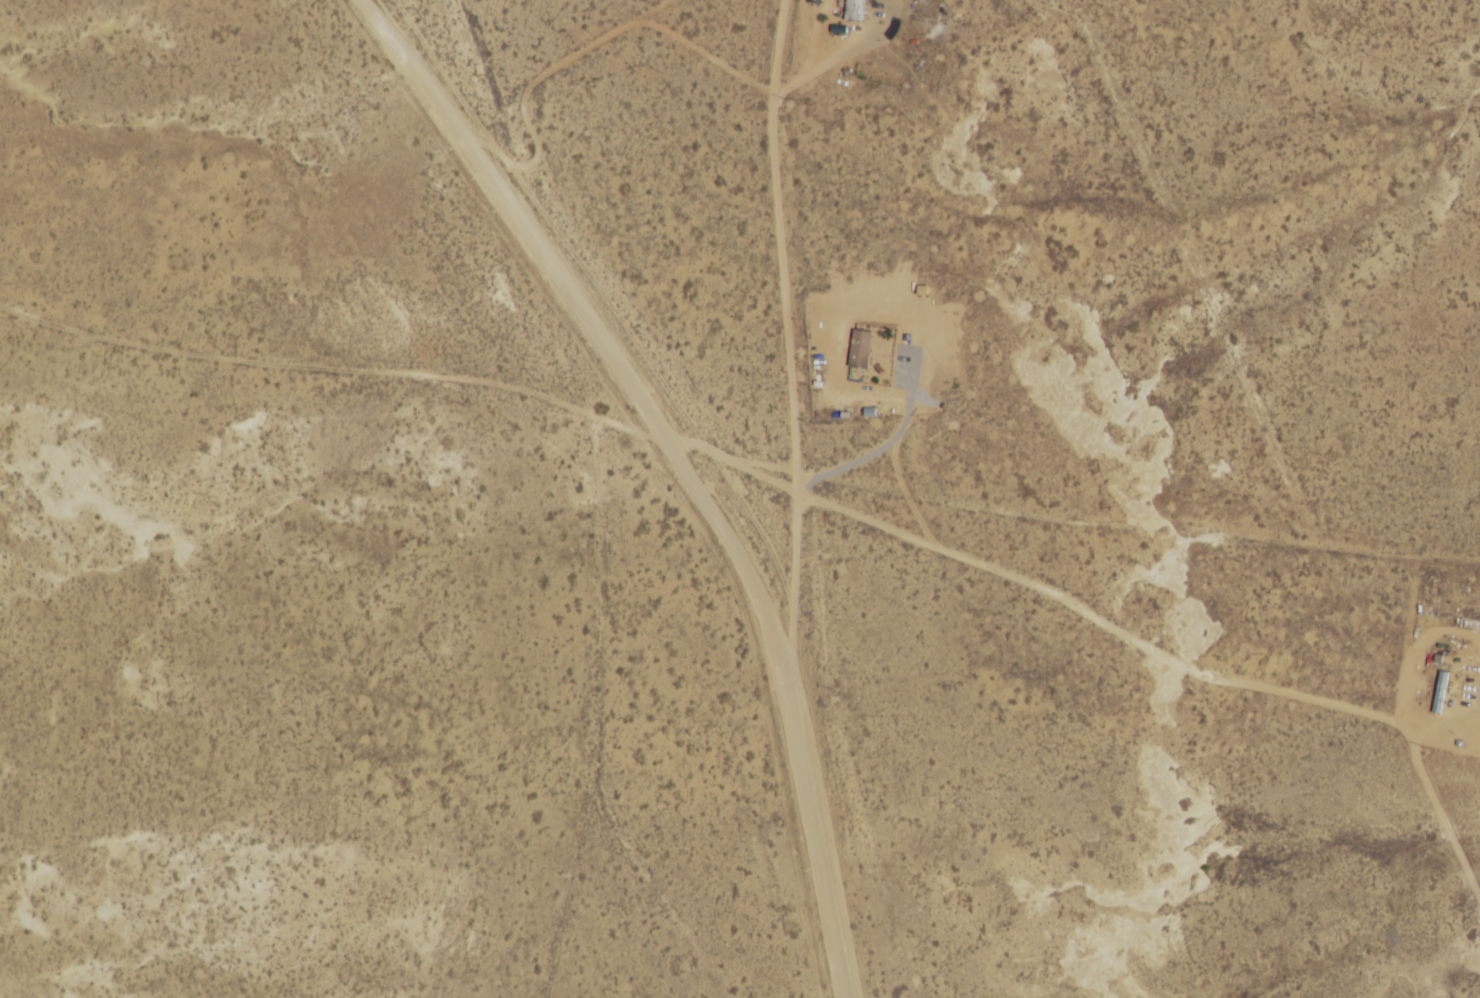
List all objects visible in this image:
building: (854, 10)
road: (467, 94)
building: (860, 348)
road: (343, 373)
road: (697, 463)
road: (836, 493)
road: (1234, 541)
building: (1440, 691)

